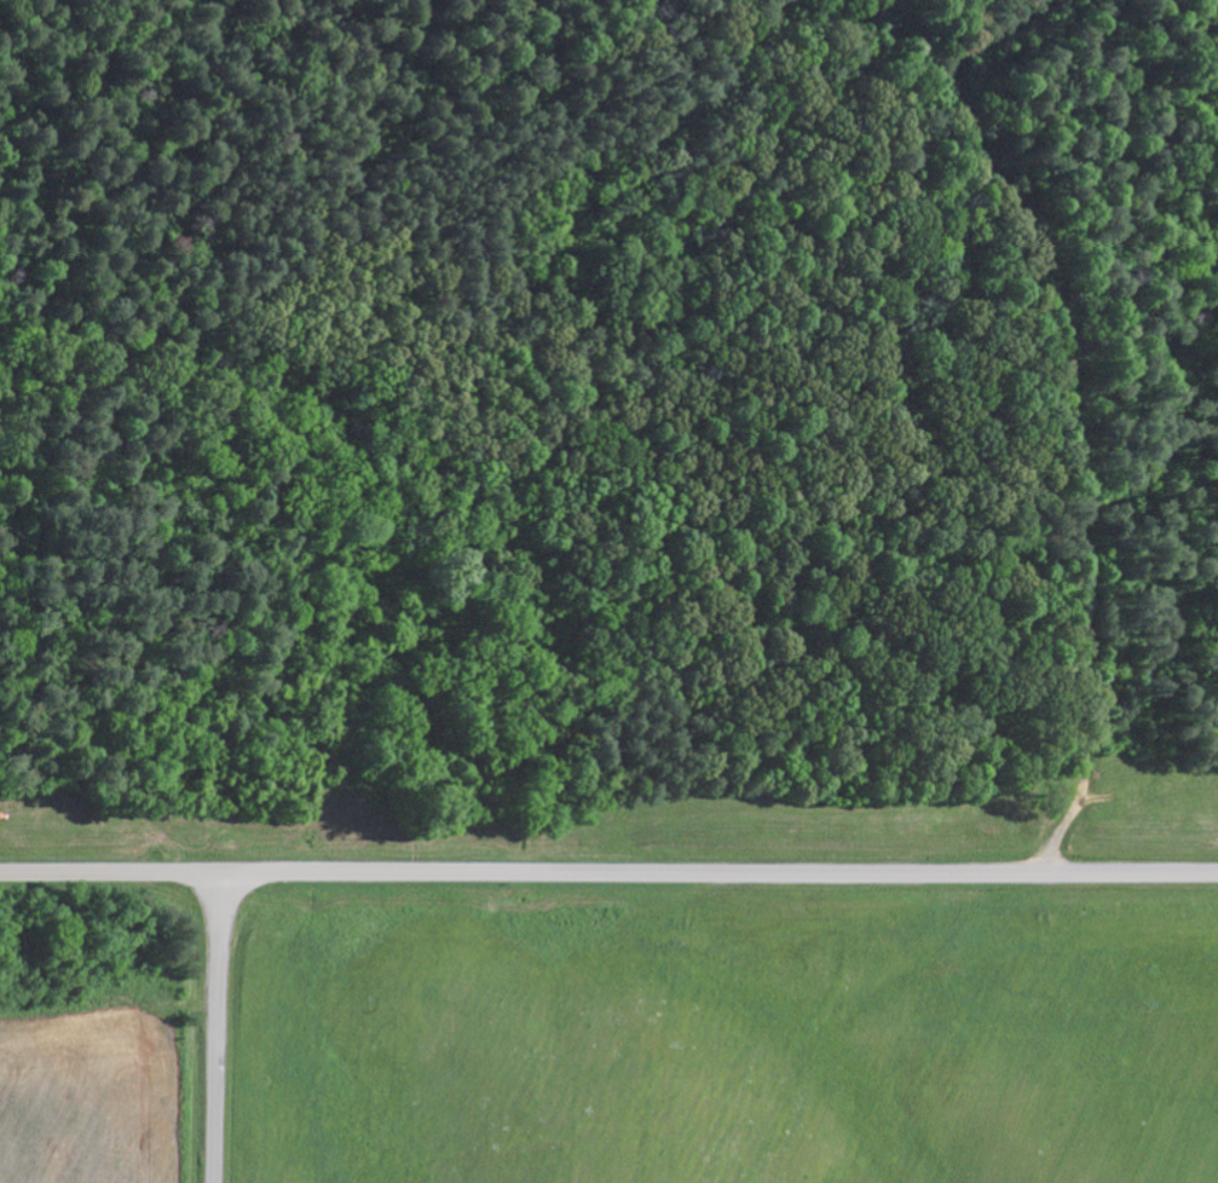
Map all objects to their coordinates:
road: (608, 875)
road: (220, 947)
road: (217, 1101)

